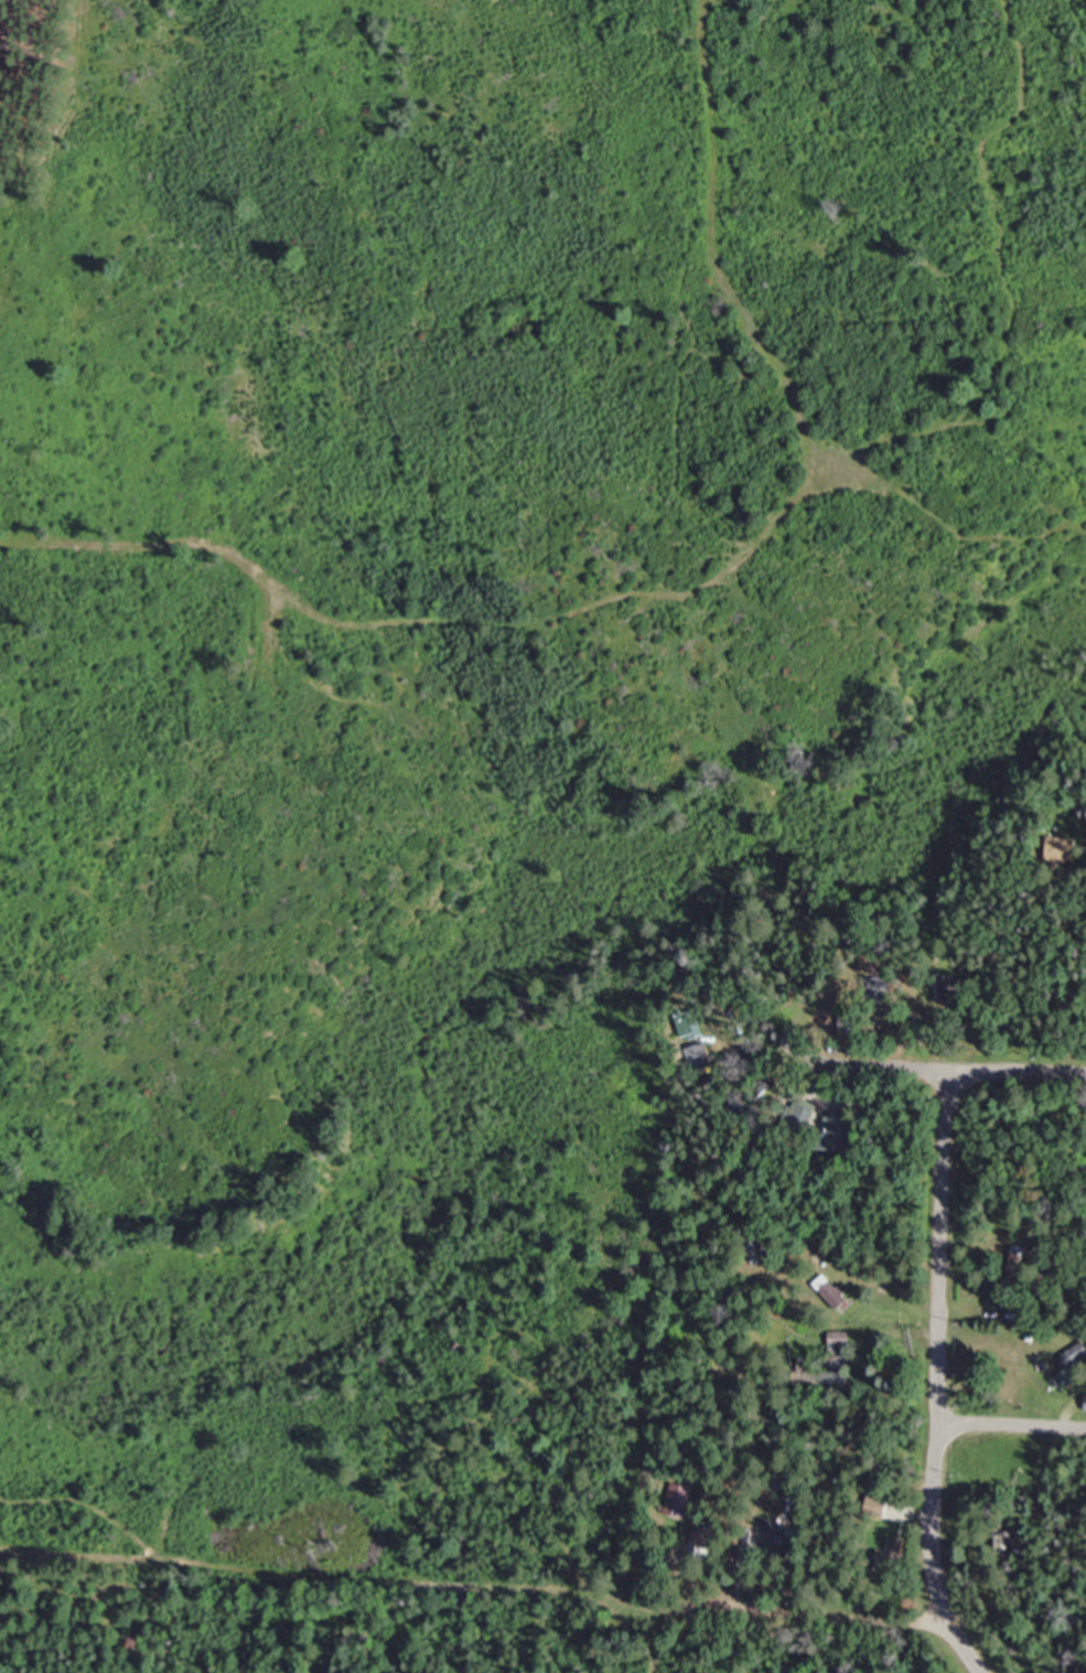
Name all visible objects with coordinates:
building: (1066, 850)
building: (695, 1027)
road: (946, 1070)
building: (841, 1134)
building: (832, 1290)
building: (841, 1341)
building: (1074, 1362)
building: (821, 1377)
road: (940, 1379)
road: (1012, 1425)
building: (679, 1503)
building: (703, 1538)
building: (784, 1542)
road: (776, 1607)

